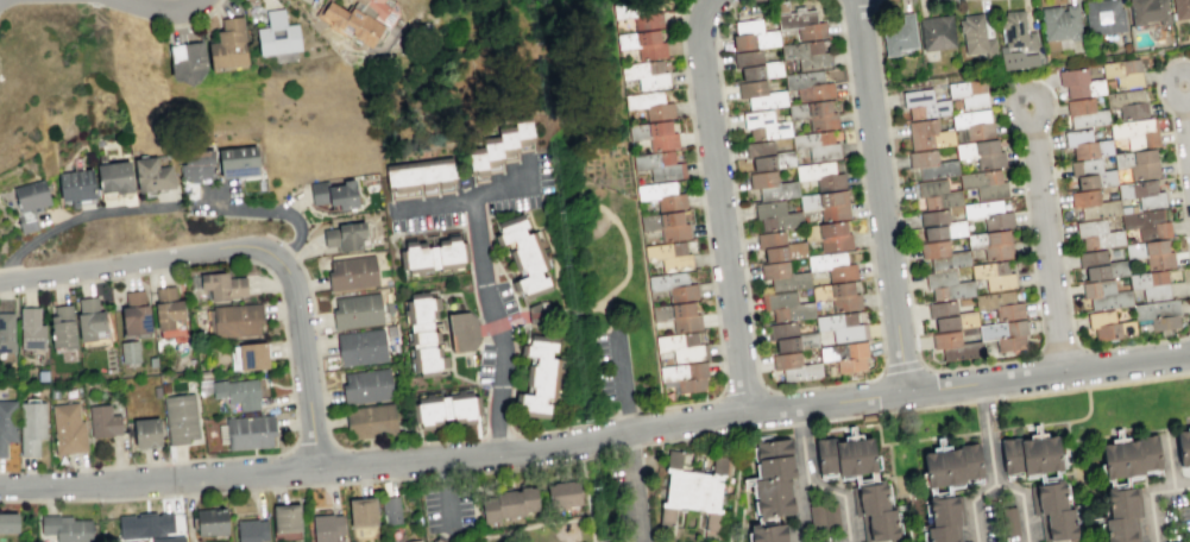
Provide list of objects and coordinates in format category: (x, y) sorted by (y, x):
road: (871, 0)
road: (269, 2)
building: (781, 6)
road: (169, 8)
building: (1180, 8)
building: (1147, 12)
building: (638, 14)
road: (196, 15)
building: (1102, 17)
building: (358, 19)
building: (1060, 21)
building: (802, 25)
building: (936, 32)
building: (276, 34)
building: (898, 34)
building: (753, 36)
building: (975, 36)
road: (586, 40)
building: (1016, 40)
building: (227, 44)
building: (643, 44)
building: (806, 55)
building: (187, 61)
building: (755, 65)
building: (1122, 73)
building: (646, 75)
building: (1078, 82)
building: (808, 86)
road: (592, 90)
building: (969, 93)
building: (760, 95)
building: (1127, 102)
building: (924, 103)
building: (649, 106)
building: (1084, 113)
building: (814, 115)
road: (1185, 121)
building: (972, 124)
building: (764, 125)
building: (523, 130)
building: (1135, 131)
building: (654, 134)
building: (927, 134)
building: (506, 141)
building: (1085, 144)
building: (817, 145)
road: (1173, 150)
building: (492, 152)
building: (981, 152)
building: (767, 155)
building: (235, 156)
building: (195, 158)
building: (477, 162)
building: (1137, 163)
building: (931, 164)
building: (659, 165)
parking lot: (541, 170)
building: (1090, 172)
building: (417, 174)
building: (151, 175)
building: (820, 175)
building: (113, 176)
building: (983, 183)
building: (76, 184)
building: (770, 185)
building: (333, 189)
building: (1141, 193)
building: (936, 194)
building: (31, 195)
road: (879, 195)
building: (661, 196)
road: (434, 200)
road: (720, 203)
building: (1093, 203)
road: (204, 204)
building: (826, 204)
road: (275, 209)
building: (988, 213)
road: (76, 215)
building: (775, 216)
parking lot: (424, 219)
building: (1146, 223)
building: (939, 225)
building: (666, 226)
building: (342, 231)
building: (1096, 234)
road: (275, 237)
road: (705, 238)
building: (833, 238)
road: (1046, 238)
road: (245, 244)
building: (991, 244)
building: (523, 246)
park: (604, 246)
building: (777, 246)
road: (1030, 246)
road: (287, 247)
building: (430, 248)
road: (628, 252)
road: (641, 253)
building: (1150, 253)
building: (943, 254)
building: (668, 256)
building: (1100, 265)
building: (832, 266)
building: (351, 269)
building: (782, 276)
building: (994, 276)
building: (1153, 282)
building: (221, 285)
building: (946, 285)
building: (673, 286)
building: (1103, 294)
road: (486, 296)
building: (837, 296)
parking lot: (505, 297)
building: (999, 304)
building: (785, 305)
building: (355, 307)
building: (166, 308)
road: (610, 309)
building: (1158, 313)
building: (134, 314)
building: (950, 315)
building: (678, 316)
building: (89, 317)
building: (235, 321)
building: (61, 326)
building: (1108, 326)
building: (840, 327)
building: (31, 328)
building: (426, 328)
road: (284, 330)
building: (462, 330)
building: (6, 332)
building: (1005, 333)
road: (1186, 335)
building: (789, 336)
building: (955, 346)
building: (360, 347)
building: (681, 347)
road: (1060, 349)
building: (127, 352)
building: (252, 355)
building: (844, 355)
parking lot: (484, 359)
building: (151, 361)
road: (901, 365)
road: (1085, 366)
parking lot: (613, 367)
building: (794, 367)
road: (1047, 373)
building: (40, 374)
road: (621, 376)
building: (682, 376)
building: (539, 377)
building: (365, 382)
road: (1091, 384)
building: (163, 386)
road: (812, 387)
building: (155, 391)
building: (237, 392)
building: (53, 393)
road: (748, 395)
road: (982, 397)
road: (825, 398)
building: (443, 402)
road: (892, 410)
road: (625, 412)
road: (798, 412)
road: (704, 416)
building: (181, 417)
building: (370, 417)
road: (1183, 417)
building: (103, 421)
road: (806, 422)
building: (7, 423)
road: (794, 423)
building: (31, 426)
building: (68, 428)
road: (799, 428)
building: (145, 431)
building: (248, 431)
road: (988, 431)
road: (517, 433)
road: (714, 434)
road: (950, 435)
building: (1182, 445)
road: (341, 447)
road: (630, 447)
road: (313, 448)
building: (1150, 450)
building: (1039, 454)
road: (1070, 454)
building: (1010, 455)
building: (844, 456)
building: (1121, 456)
building: (774, 458)
road: (802, 458)
building: (970, 461)
road: (1169, 461)
road: (330, 464)
road: (539, 466)
building: (942, 467)
road: (890, 468)
road: (446, 474)
road: (634, 484)
building: (693, 489)
road: (219, 491)
road: (447, 493)
building: (562, 493)
building: (772, 496)
road: (1150, 496)
building: (868, 497)
building: (1046, 497)
building: (529, 498)
road: (843, 498)
road: (586, 499)
building: (1121, 500)
building: (508, 503)
road: (1021, 504)
road: (971, 506)
building: (391, 510)
building: (489, 510)
building: (942, 510)
building: (361, 511)
road: (800, 511)
building: (824, 516)
building: (285, 517)
road: (473, 517)
building: (210, 521)
building: (1008, 521)
building: (8, 523)
building: (1057, 523)
road: (537, 524)
building: (879, 524)
building: (145, 525)
building: (326, 527)
building: (65, 528)
building: (1120, 529)
building: (251, 530)
building: (767, 532)
building: (939, 532)
building: (169, 540)
building: (1185, 540)
building: (415, 541)
building: (1172, 541)

